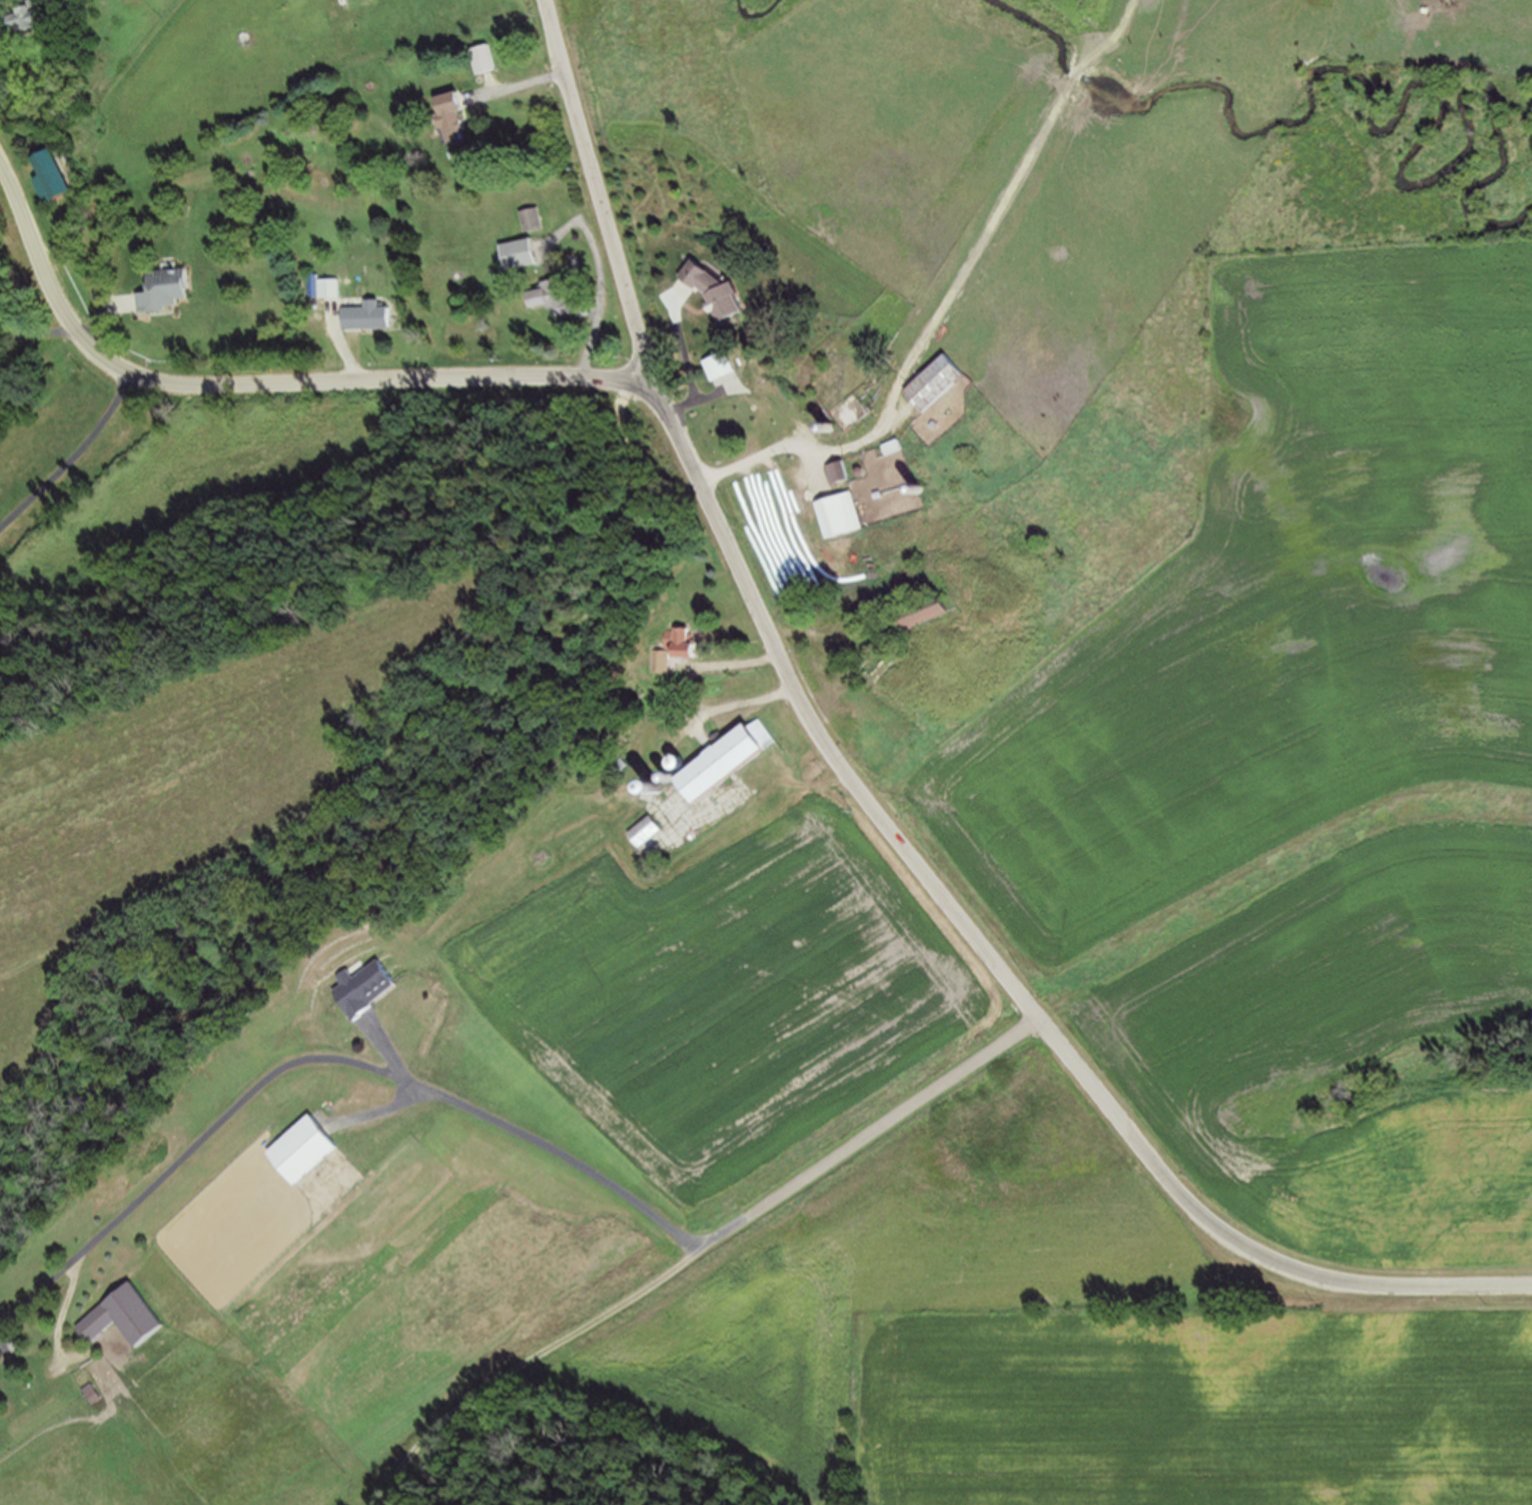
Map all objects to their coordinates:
building: (31, 16)
river: (756, 16)
river: (1063, 50)
building: (480, 59)
building: (490, 61)
road: (525, 86)
river: (1437, 95)
building: (447, 115)
building: (460, 119)
building: (58, 182)
building: (528, 219)
road: (987, 245)
building: (513, 254)
road: (600, 275)
building: (325, 288)
building: (164, 289)
building: (710, 289)
building: (548, 297)
road: (101, 307)
road: (665, 310)
building: (362, 318)
road: (35, 339)
building: (722, 365)
road: (267, 381)
building: (928, 383)
road: (73, 457)
road: (752, 462)
building: (834, 471)
building: (833, 514)
road: (641, 550)
building: (918, 615)
building: (666, 647)
building: (684, 657)
road: (745, 666)
building: (720, 763)
road: (870, 805)
building: (642, 834)
building: (354, 987)
road: (517, 1137)
building: (290, 1153)
building: (116, 1318)
road: (535, 1362)
building: (87, 1393)

